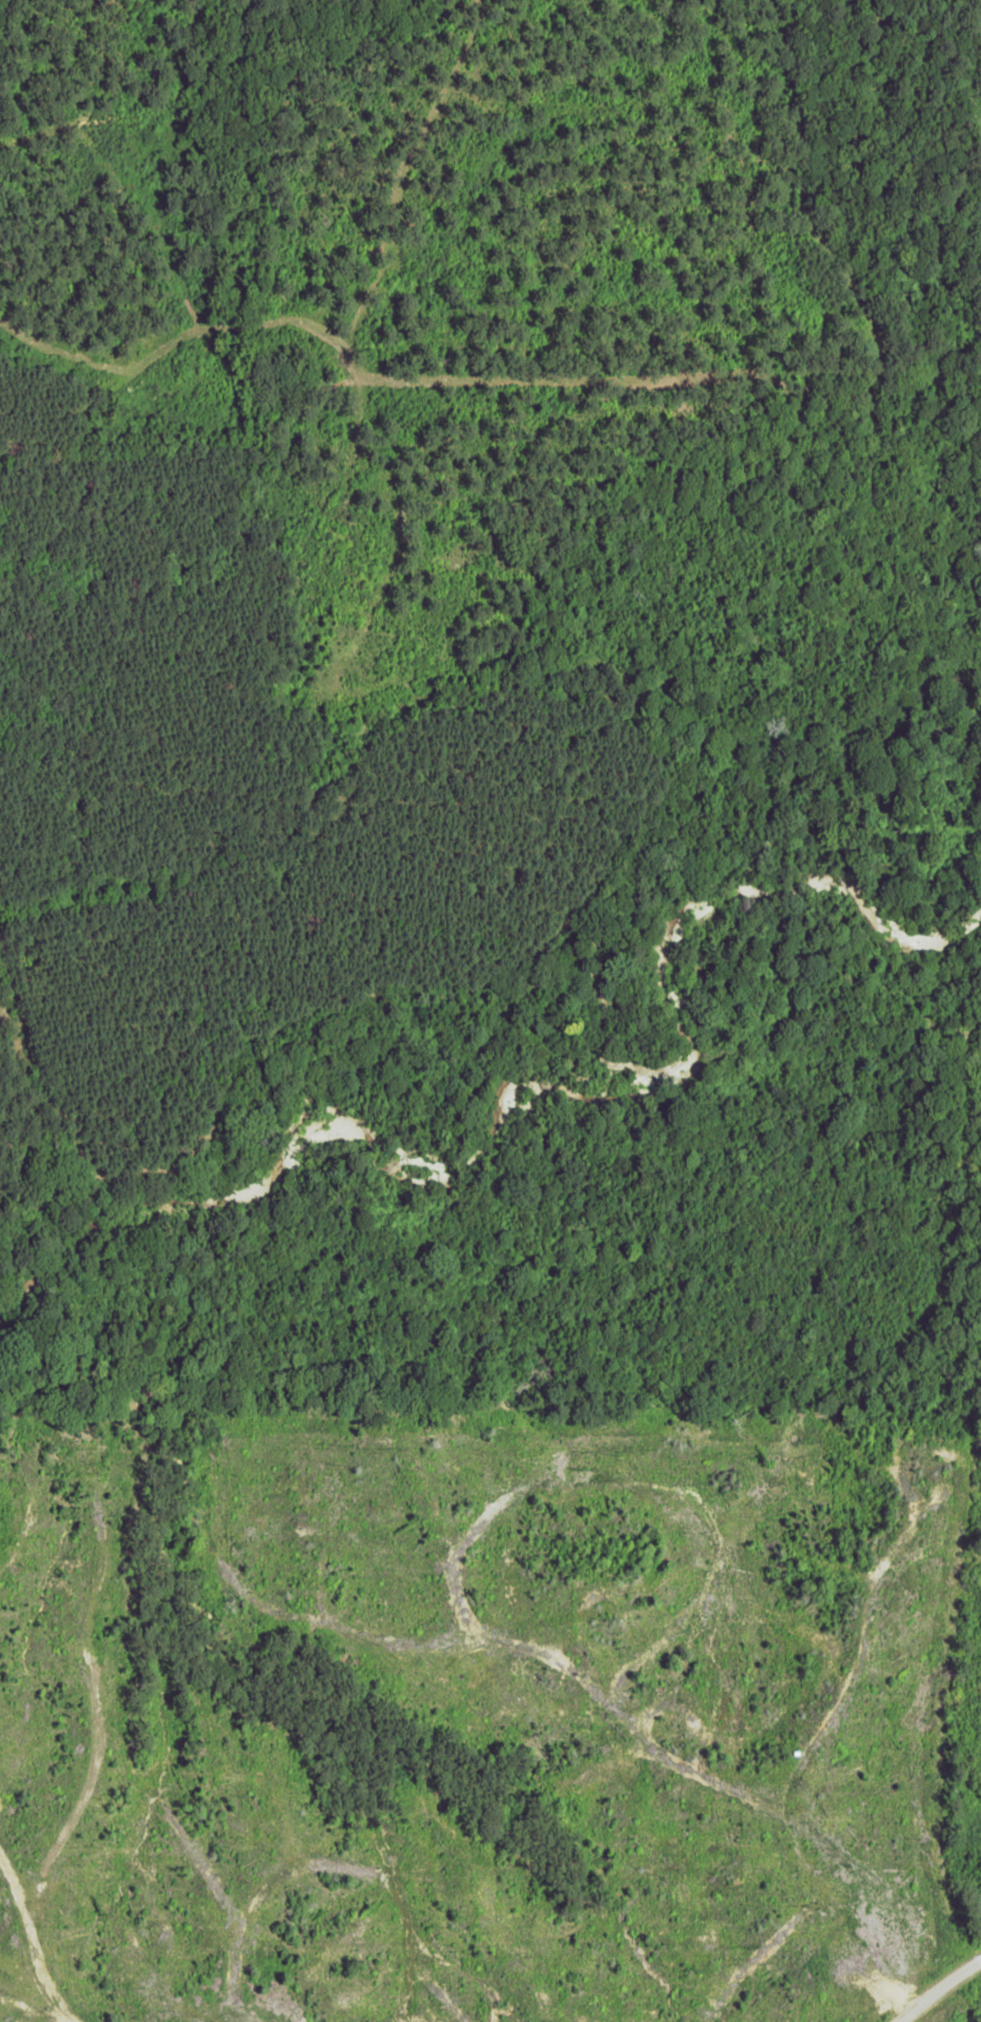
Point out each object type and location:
road: (971, 2017)

